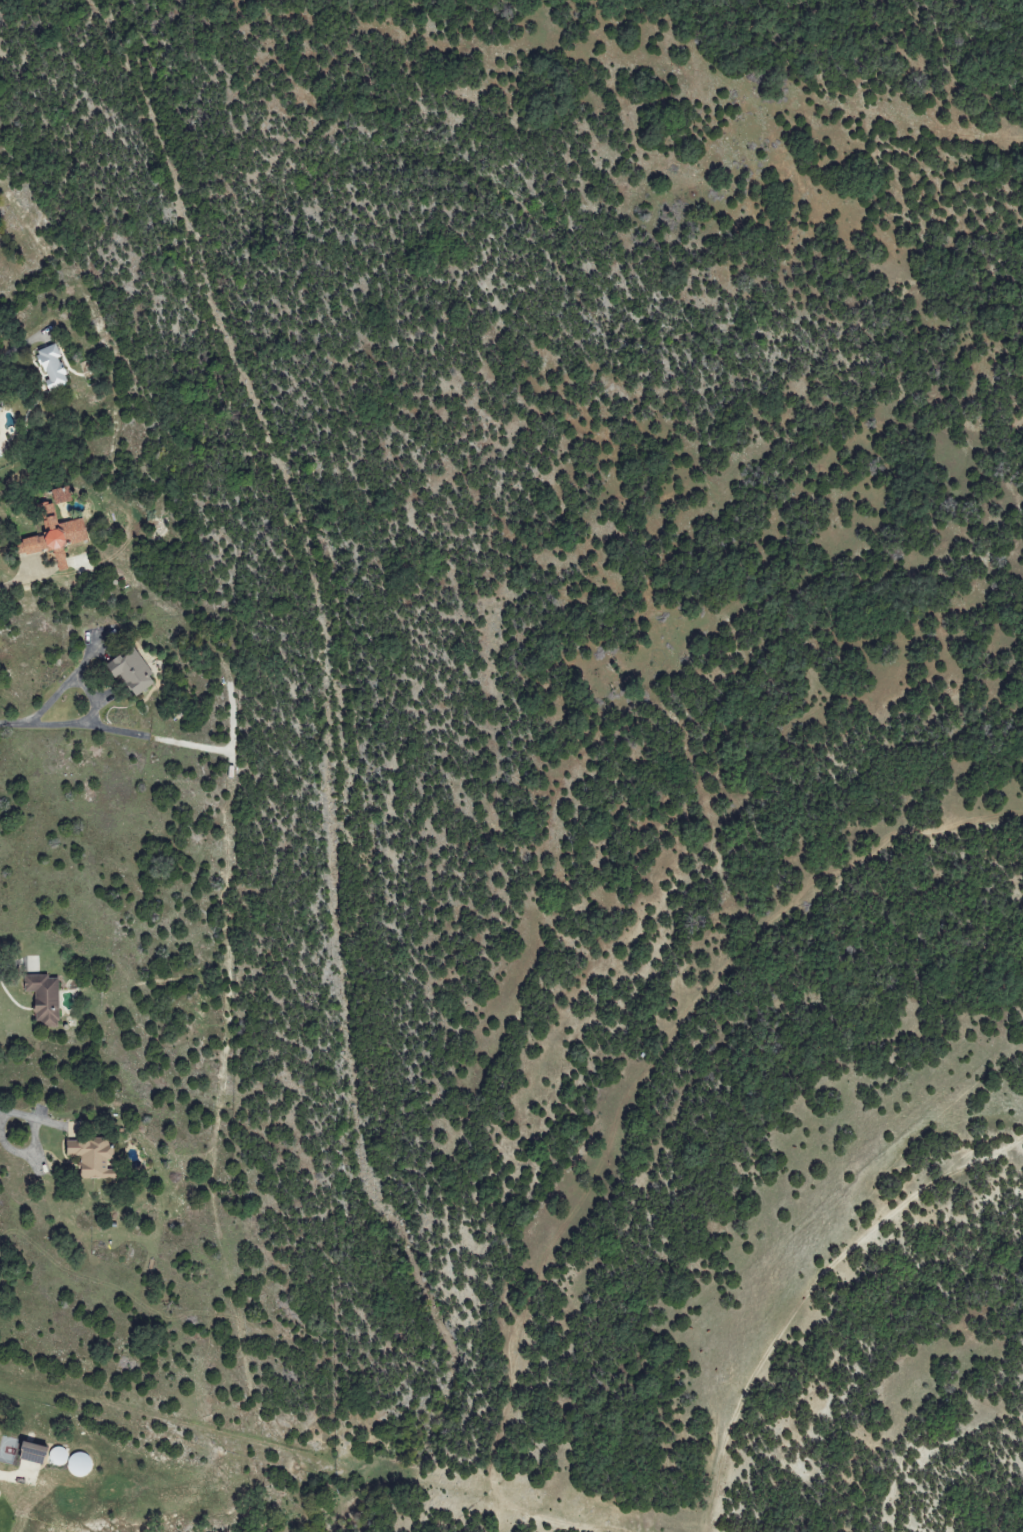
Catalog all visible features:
building: (52, 367)
building: (61, 495)
building: (55, 536)
road: (18, 581)
building: (131, 670)
road: (94, 694)
road: (15, 723)
road: (13, 961)
building: (45, 998)
road: (36, 1139)
building: (91, 1157)
building: (31, 1452)
building: (71, 1461)
road: (2, 1478)

